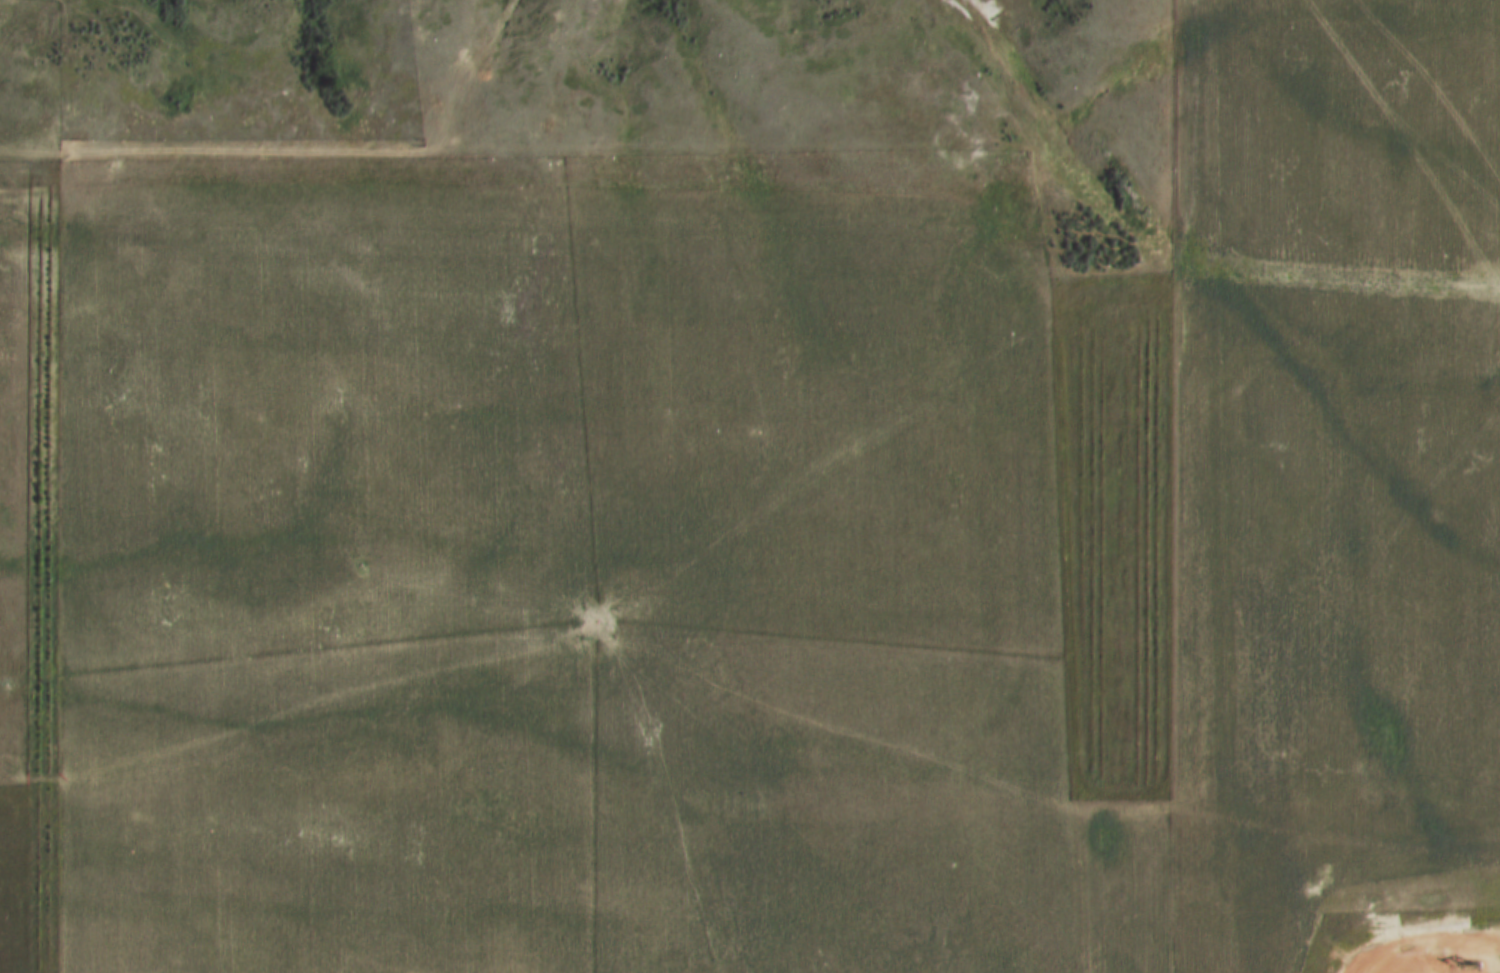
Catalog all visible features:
petroleum well: (1468, 964)

